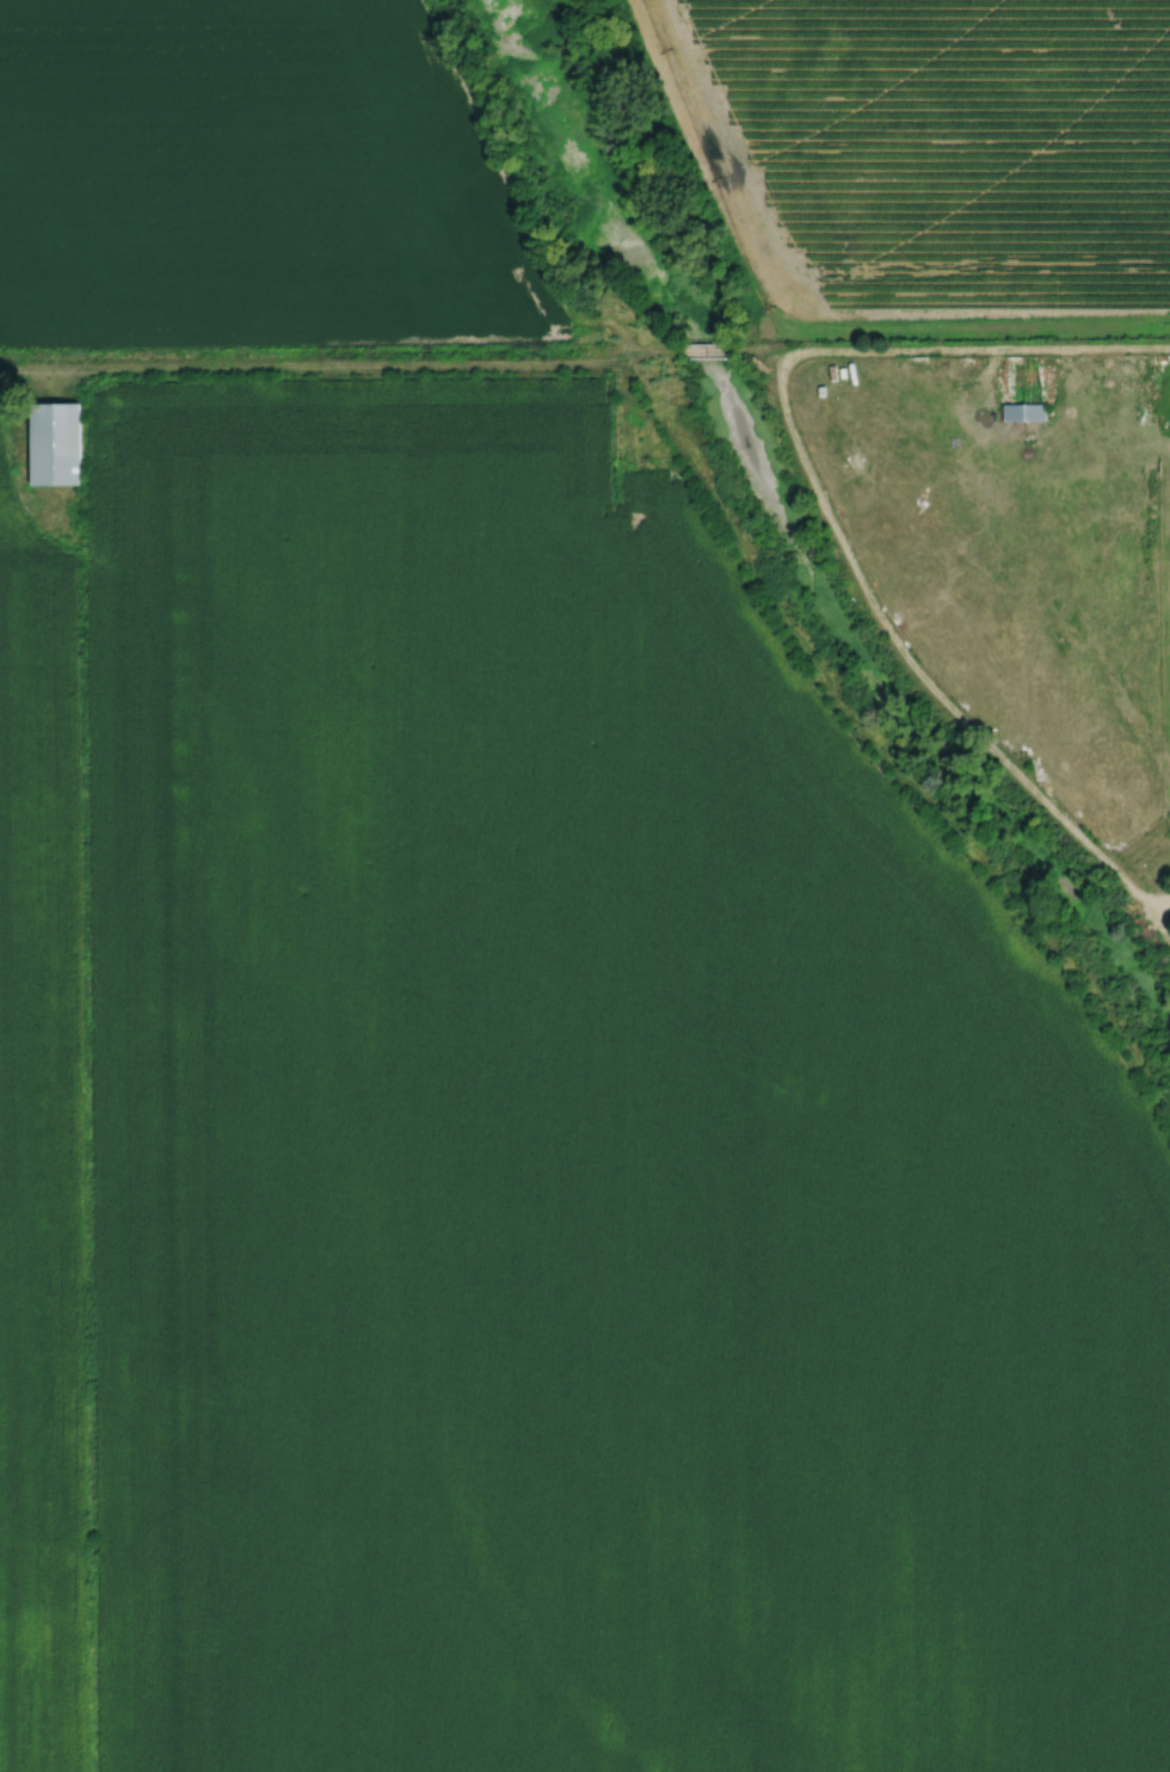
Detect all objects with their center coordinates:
crop: (932, 158)
crop: (253, 184)
road: (978, 347)
road: (707, 350)
road: (763, 350)
building: (759, 364)
road: (338, 365)
building: (971, 371)
road: (1098, 408)
building: (1023, 411)
building: (803, 413)
building: (54, 442)
road: (918, 670)
road: (1164, 921)
crop: (523, 1132)

